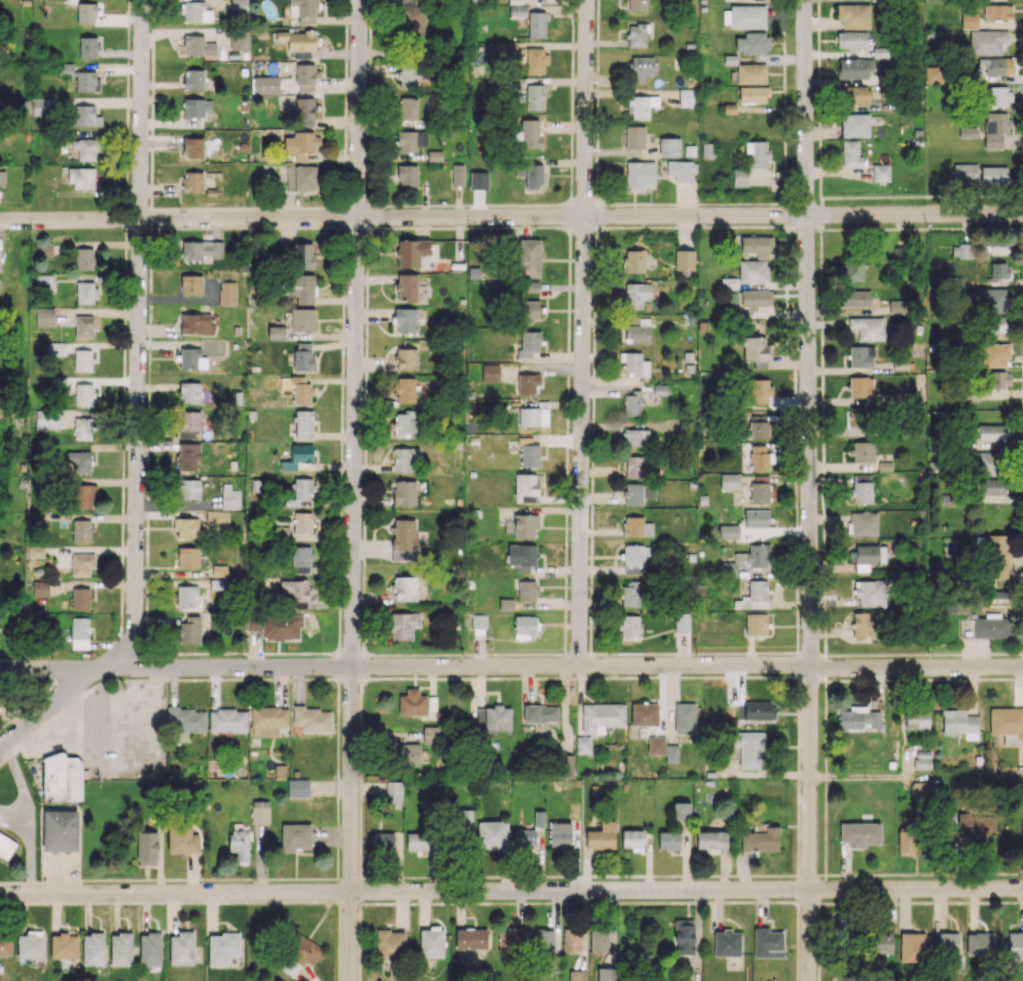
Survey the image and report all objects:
building: (875, 0)
road: (347, 2)
building: (637, 4)
building: (239, 6)
road: (783, 7)
building: (303, 8)
building: (517, 10)
building: (196, 11)
building: (998, 12)
building: (86, 13)
road: (370, 15)
road: (572, 15)
road: (817, 15)
building: (744, 16)
building: (853, 16)
road: (153, 20)
building: (969, 20)
building: (536, 23)
building: (636, 35)
road: (346, 36)
building: (239, 39)
building: (853, 40)
building: (298, 42)
building: (752, 42)
building: (987, 42)
building: (198, 45)
building: (88, 47)
road: (597, 48)
road: (783, 49)
road: (571, 52)
road: (370, 56)
road: (818, 56)
building: (535, 60)
road: (127, 63)
building: (996, 65)
building: (641, 67)
building: (854, 68)
building: (65, 69)
building: (751, 73)
building: (306, 76)
building: (408, 76)
building: (194, 79)
building: (87, 81)
building: (265, 85)
road: (571, 91)
building: (753, 94)
building: (855, 94)
building: (534, 96)
building: (997, 96)
building: (687, 98)
road: (819, 101)
building: (42, 106)
building: (641, 106)
building: (193, 107)
building: (408, 109)
building: (304, 111)
road: (784, 114)
building: (85, 115)
road: (571, 118)
road: (345, 120)
road: (151, 123)
road: (596, 125)
building: (855, 125)
building: (995, 129)
building: (530, 133)
road: (571, 136)
building: (635, 136)
building: (411, 140)
road: (370, 143)
building: (299, 144)
building: (193, 147)
building: (669, 147)
building: (84, 148)
road: (126, 149)
building: (709, 149)
building: (757, 153)
building: (851, 154)
road: (784, 155)
road: (819, 159)
building: (519, 170)
building: (680, 170)
road: (570, 171)
building: (881, 172)
building: (965, 173)
building: (457, 174)
road: (595, 174)
building: (640, 174)
building: (994, 174)
building: (407, 175)
building: (533, 176)
building: (740, 177)
building: (81, 178)
building: (301, 178)
building: (478, 180)
building: (192, 181)
road: (126, 182)
road: (785, 184)
road: (344, 187)
road: (977, 195)
road: (876, 196)
road: (126, 200)
road: (583, 202)
road: (780, 202)
road: (691, 203)
road: (489, 204)
road: (385, 205)
road: (402, 205)
road: (266, 207)
road: (298, 207)
road: (334, 207)
road: (204, 208)
road: (820, 213)
road: (568, 215)
road: (597, 215)
road: (344, 216)
road: (370, 216)
road: (511, 216)
road: (151, 217)
road: (306, 226)
road: (520, 226)
road: (684, 226)
road: (776, 226)
road: (805, 226)
road: (207, 227)
road: (258, 227)
road: (377, 227)
road: (422, 227)
road: (467, 227)
road: (993, 227)
road: (160, 228)
road: (583, 228)
road: (867, 228)
road: (925, 228)
road: (833, 229)
road: (785, 231)
road: (595, 237)
road: (785, 241)
building: (756, 245)
road: (150, 248)
building: (42, 249)
building: (200, 249)
building: (999, 249)
building: (961, 250)
building: (411, 252)
road: (125, 253)
road: (343, 254)
building: (303, 255)
building: (528, 257)
building: (84, 258)
building: (684, 259)
building: (634, 261)
road: (594, 268)
building: (851, 268)
road: (368, 270)
building: (999, 270)
building: (753, 271)
road: (820, 272)
building: (44, 282)
building: (729, 283)
building: (191, 284)
building: (406, 286)
building: (530, 286)
building: (301, 288)
road: (124, 291)
building: (84, 292)
building: (227, 292)
building: (636, 294)
road: (594, 296)
building: (855, 298)
building: (990, 299)
building: (755, 301)
building: (529, 309)
road: (568, 312)
road: (124, 315)
road: (1022, 316)
road: (594, 317)
building: (302, 319)
building: (405, 319)
building: (195, 323)
building: (997, 324)
building: (84, 326)
building: (868, 327)
building: (276, 332)
road: (582, 332)
road: (124, 336)
road: (149, 337)
road: (137, 343)
building: (529, 343)
road: (366, 348)
building: (754, 350)
building: (995, 354)
building: (303, 356)
building: (861, 356)
building: (189, 357)
building: (406, 358)
road: (342, 359)
building: (83, 360)
road: (123, 363)
building: (634, 363)
road: (791, 364)
road: (821, 364)
building: (901, 364)
building: (490, 372)
building: (1000, 379)
building: (59, 383)
building: (527, 383)
road: (592, 383)
building: (860, 387)
road: (1022, 388)
building: (404, 389)
building: (300, 391)
building: (760, 391)
building: (84, 394)
building: (897, 398)
building: (632, 403)
road: (123, 411)
road: (365, 415)
building: (529, 416)
building: (855, 417)
road: (567, 418)
building: (47, 419)
building: (189, 423)
building: (404, 423)
building: (304, 424)
road: (822, 425)
road: (148, 427)
building: (82, 428)
building: (759, 430)
building: (991, 432)
building: (635, 437)
road: (592, 447)
road: (567, 449)
building: (862, 452)
building: (529, 453)
building: (188, 455)
road: (822, 455)
building: (298, 456)
building: (759, 456)
road: (147, 459)
building: (405, 459)
building: (79, 461)
road: (364, 461)
building: (985, 462)
building: (885, 465)
building: (638, 466)
road: (340, 471)
building: (729, 480)
road: (147, 481)
road: (566, 482)
road: (821, 483)
building: (528, 486)
building: (992, 486)
building: (861, 488)
building: (760, 489)
road: (353, 490)
road: (364, 490)
road: (808, 490)
building: (301, 492)
building: (404, 492)
building: (633, 493)
building: (84, 495)
road: (1022, 496)
building: (230, 498)
road: (796, 509)
road: (823, 509)
road: (340, 513)
building: (36, 517)
building: (217, 518)
building: (756, 518)
building: (302, 522)
building: (862, 523)
building: (521, 525)
road: (147, 526)
building: (636, 526)
building: (186, 527)
road: (363, 527)
building: (81, 530)
building: (281, 531)
building: (728, 531)
building: (403, 538)
road: (122, 541)
building: (36, 551)
building: (635, 555)
building: (188, 556)
building: (522, 556)
road: (590, 556)
road: (824, 556)
building: (868, 556)
building: (996, 557)
building: (302, 559)
building: (748, 559)
road: (796, 562)
road: (340, 563)
building: (82, 564)
road: (363, 565)
road: (1022, 565)
building: (217, 571)
road: (146, 581)
road: (564, 581)
building: (40, 588)
building: (404, 588)
building: (526, 591)
building: (870, 592)
road: (363, 593)
building: (295, 594)
building: (630, 594)
building: (186, 595)
building: (754, 596)
road: (824, 597)
building: (80, 598)
building: (997, 598)
building: (506, 604)
building: (955, 605)
road: (1021, 605)
road: (146, 614)
road: (796, 620)
building: (682, 622)
road: (363, 623)
building: (756, 624)
building: (862, 624)
building: (275, 625)
building: (402, 625)
building: (629, 625)
road: (339, 627)
building: (524, 627)
building: (991, 627)
road: (824, 628)
building: (189, 630)
building: (79, 632)
road: (145, 639)
road: (1021, 643)
road: (363, 645)
road: (256, 652)
road: (350, 652)
road: (366, 652)
road: (693, 652)
road: (161, 653)
road: (577, 653)
road: (930, 653)
road: (465, 654)
road: (833, 654)
road: (1022, 654)
road: (338, 664)
road: (365, 665)
road: (511, 665)
road: (824, 667)
road: (715, 676)
road: (754, 676)
road: (782, 676)
road: (527, 677)
road: (594, 677)
road: (645, 677)
road: (181, 678)
road: (249, 678)
road: (286, 678)
road: (317, 678)
road: (406, 678)
road: (457, 678)
road: (973, 678)
road: (122, 679)
road: (331, 679)
road: (349, 679)
road: (886, 679)
road: (837, 680)
road: (98, 682)
road: (52, 686)
road: (798, 690)
road: (34, 700)
building: (412, 702)
road: (48, 706)
road: (360, 706)
road: (825, 706)
building: (758, 710)
building: (539, 714)
building: (644, 714)
building: (602, 716)
building: (916, 717)
building: (493, 718)
building: (684, 718)
building: (859, 718)
road: (9, 719)
building: (186, 719)
building: (313, 719)
building: (228, 720)
building: (268, 720)
building: (960, 723)
building: (1007, 724)
building: (583, 744)
building: (656, 745)
road: (337, 746)
road: (825, 748)
building: (750, 749)
building: (406, 752)
building: (671, 753)
road: (360, 755)
building: (923, 759)
road: (3, 761)
building: (563, 766)
building: (61, 778)
road: (916, 778)
building: (298, 788)
road: (797, 789)
building: (920, 791)
building: (393, 792)
building: (681, 811)
building: (260, 814)
road: (360, 817)
road: (337, 818)
road: (825, 819)
building: (462, 820)
building: (976, 821)
building: (59, 830)
building: (1022, 830)
building: (559, 834)
building: (859, 834)
building: (1, 835)
building: (493, 835)
building: (601, 836)
building: (295, 837)
building: (524, 838)
building: (182, 839)
building: (632, 839)
building: (711, 839)
building: (668, 840)
building: (761, 840)
building: (382, 841)
building: (417, 841)
building: (906, 841)
building: (240, 845)
building: (6, 847)
building: (147, 848)
road: (337, 850)
road: (360, 864)
road: (872, 873)
road: (959, 873)
road: (999, 873)
road: (1014, 873)
road: (491, 875)
road: (521, 875)
road: (549, 875)
road: (566, 875)
road: (596, 875)
road: (624, 875)
road: (662, 875)
road: (701, 875)
road: (751, 875)
road: (807, 875)
road: (380, 876)
road: (414, 876)
road: (454, 876)
road: (210, 878)
road: (41, 881)
road: (797, 888)
road: (337, 889)
road: (821, 889)
road: (511, 890)
road: (177, 901)
road: (706, 901)
road: (807, 901)
road: (992, 901)
road: (1011, 901)
road: (9, 902)
road: (403, 902)
road: (459, 902)
road: (520, 902)
road: (591, 902)
road: (864, 902)
road: (939, 902)
road: (827, 903)
road: (819, 910)
building: (837, 924)
building: (470, 938)
building: (513, 938)
building: (571, 939)
building: (603, 939)
road: (338, 940)
road: (360, 940)
building: (544, 940)
road: (818, 940)
road: (797, 941)
building: (431, 942)
building: (949, 942)
building: (390, 943)
building: (727, 943)
building: (767, 943)
building: (980, 943)
building: (31, 944)
building: (5, 945)
building: (63, 945)
building: (880, 945)
building: (1015, 946)
building: (914, 947)
building: (121, 948)
building: (182, 948)
building: (222, 948)
building: (93, 949)
building: (150, 949)
building: (298, 954)
road: (818, 972)
building: (606, 974)
building: (577, 975)
road: (359, 977)
building: (844, 978)

